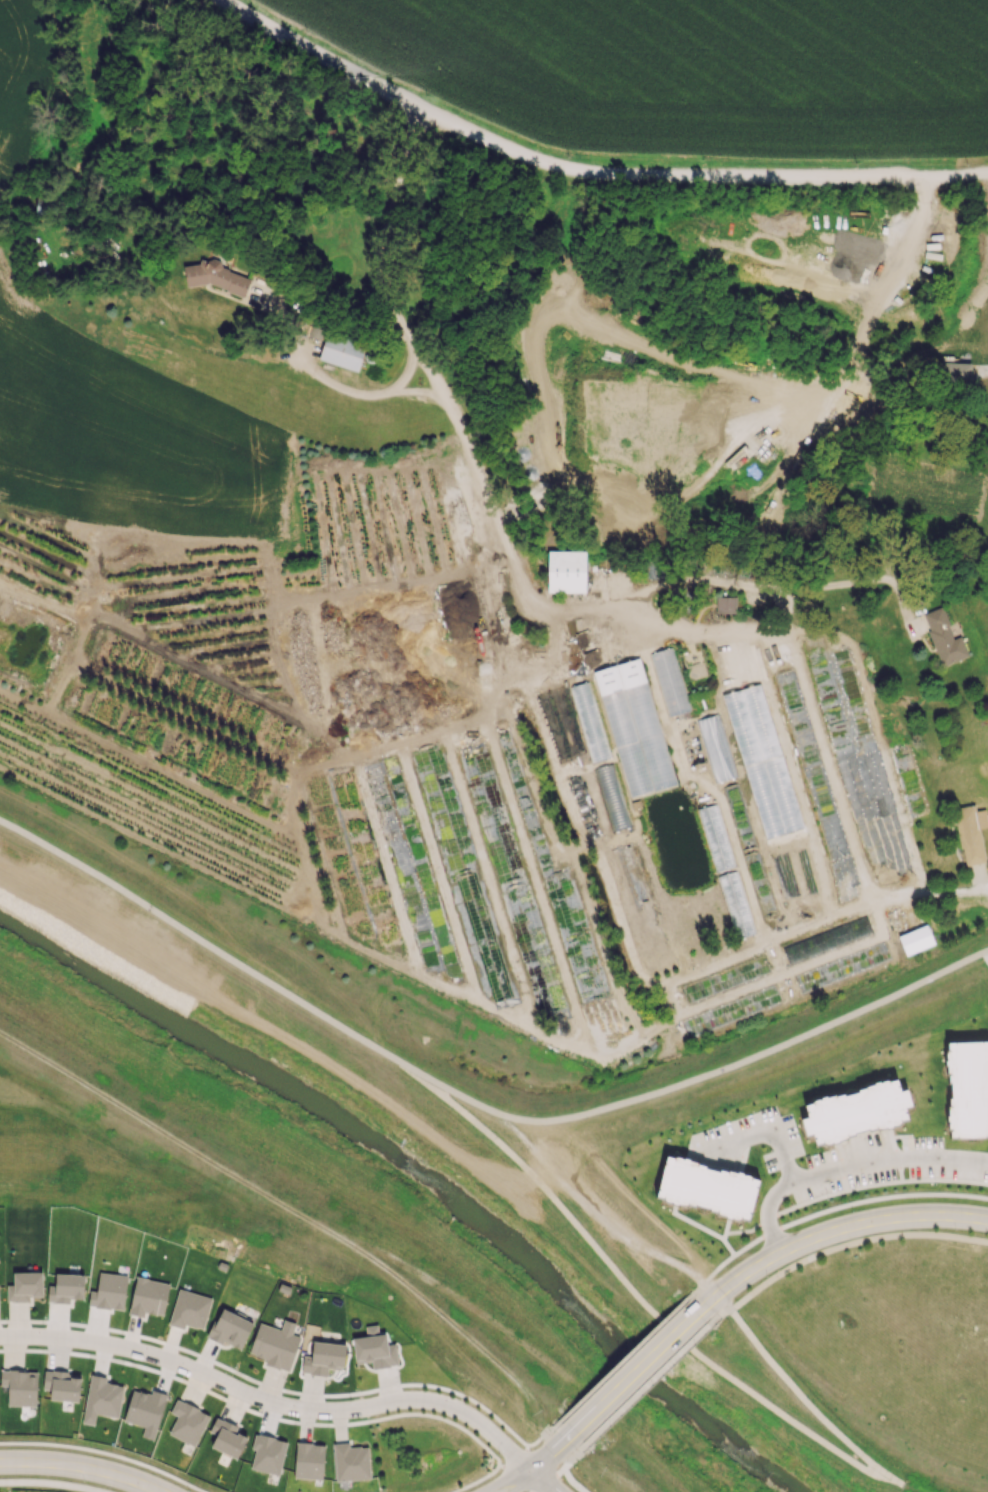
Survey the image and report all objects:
crop: (696, 69)
road: (581, 175)
road: (5, 205)
road: (386, 228)
building: (216, 277)
building: (316, 330)
building: (342, 351)
building: (956, 372)
road: (340, 386)
road: (425, 394)
road: (501, 525)
building: (566, 572)
road: (765, 586)
building: (725, 604)
building: (943, 637)
road: (538, 660)
building: (669, 681)
building: (589, 720)
building: (637, 729)
building: (715, 747)
building: (762, 760)
road: (790, 764)
road: (701, 782)
building: (609, 792)
building: (970, 833)
road: (934, 891)
building: (736, 904)
building: (825, 939)
building: (915, 939)
road: (210, 945)
road: (753, 946)
road: (985, 955)
building: (842, 966)
road: (775, 978)
building: (722, 979)
building: (732, 1011)
road: (785, 1045)
building: (968, 1089)
road: (458, 1094)
building: (856, 1110)
road: (534, 1121)
road: (759, 1126)
road: (176, 1139)
road: (844, 1168)
river: (418, 1174)
building: (706, 1191)
road: (586, 1204)
road: (825, 1212)
road: (565, 1213)
road: (837, 1229)
road: (851, 1244)
road: (705, 1283)
building: (25, 1286)
building: (66, 1288)
building: (109, 1291)
building: (148, 1297)
building: (189, 1309)
road: (720, 1319)
building: (230, 1329)
road: (460, 1330)
building: (275, 1344)
building: (374, 1348)
road: (532, 1349)
building: (324, 1358)
road: (619, 1362)
road: (640, 1368)
building: (62, 1385)
building: (20, 1387)
road: (646, 1389)
road: (799, 1394)
road: (271, 1398)
building: (101, 1399)
building: (145, 1410)
road: (789, 1419)
building: (187, 1422)
road: (549, 1430)
building: (226, 1437)
road: (558, 1445)
building: (267, 1453)
road: (577, 1453)
building: (309, 1460)
building: (351, 1462)
road: (537, 1463)
road: (82, 1467)
road: (605, 1472)
road: (562, 1473)
road: (890, 1477)
road: (61, 1478)
road: (541, 1481)
road: (542, 1481)

